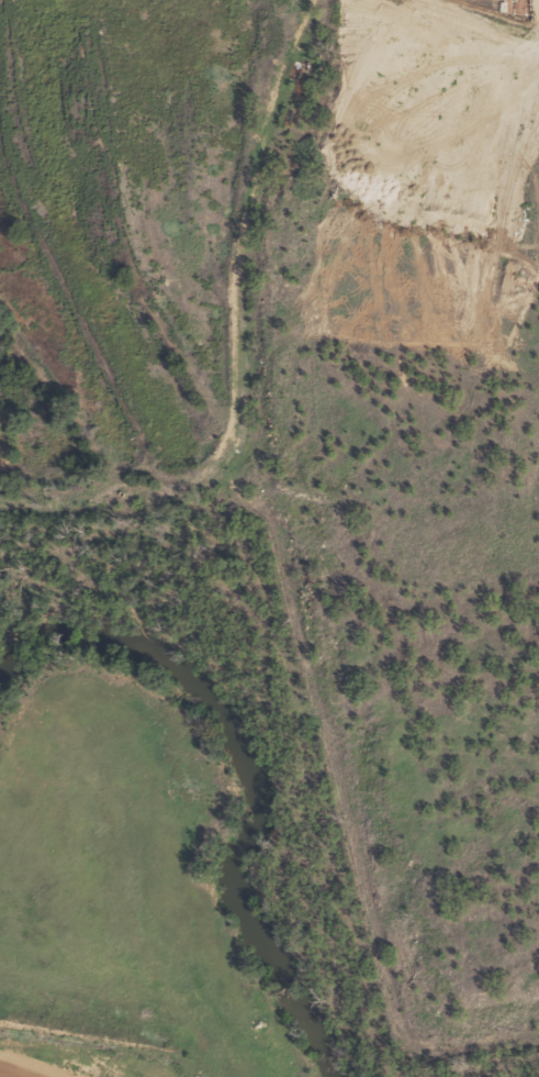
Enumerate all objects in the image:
road: (531, 13)
road: (261, 334)

